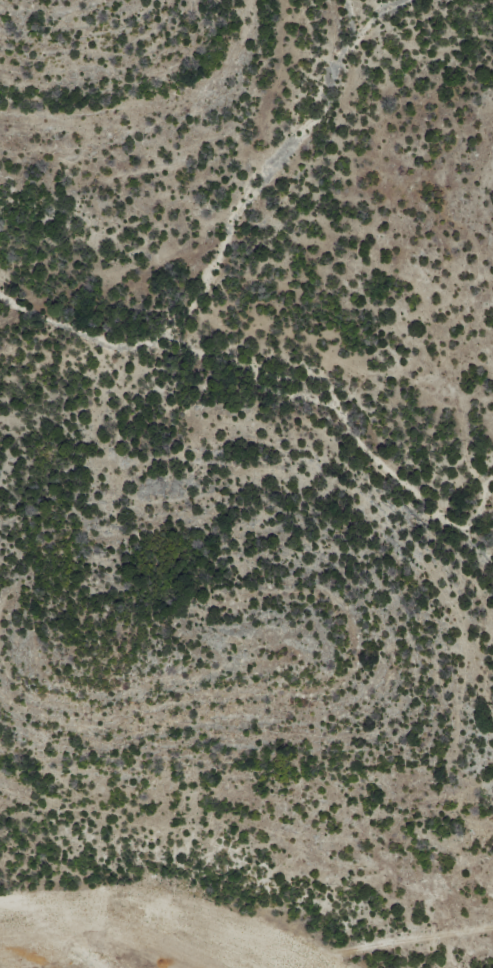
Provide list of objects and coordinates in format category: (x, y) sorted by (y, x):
road: (245, 959)

